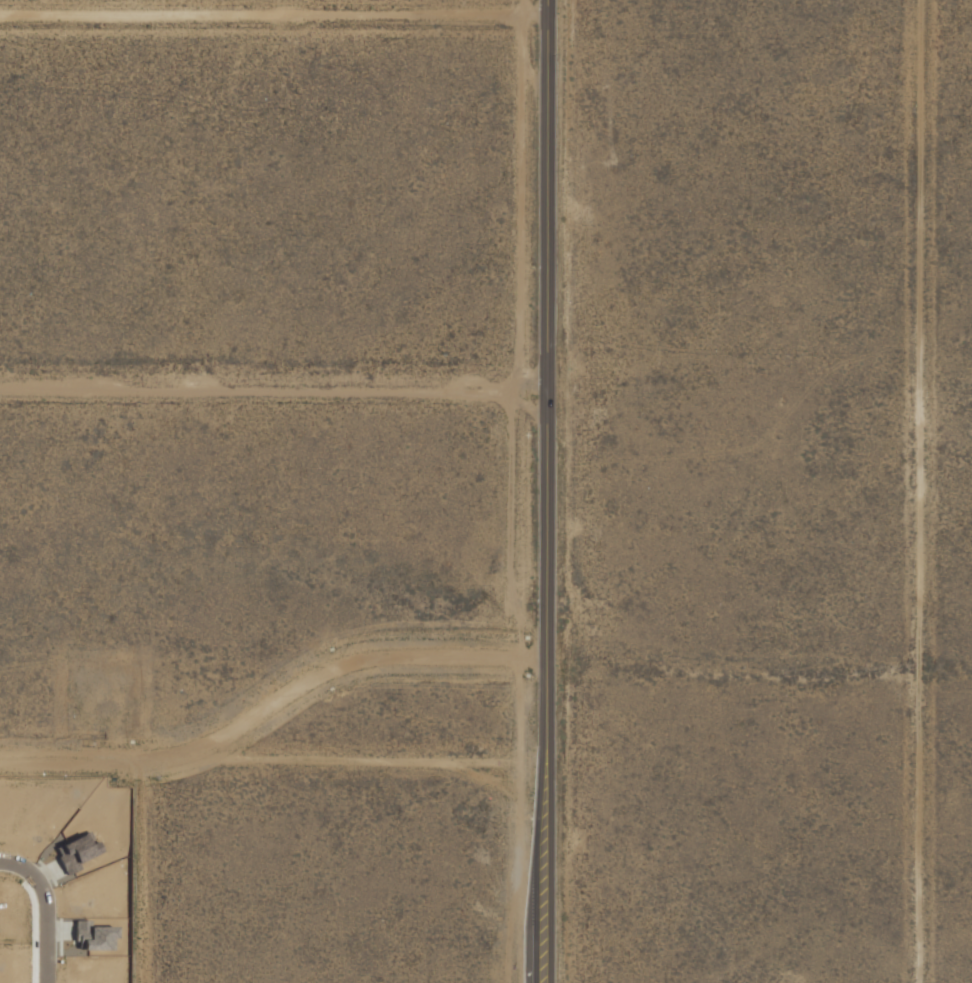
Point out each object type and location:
road: (549, 491)
road: (927, 491)
road: (276, 710)
road: (56, 903)

